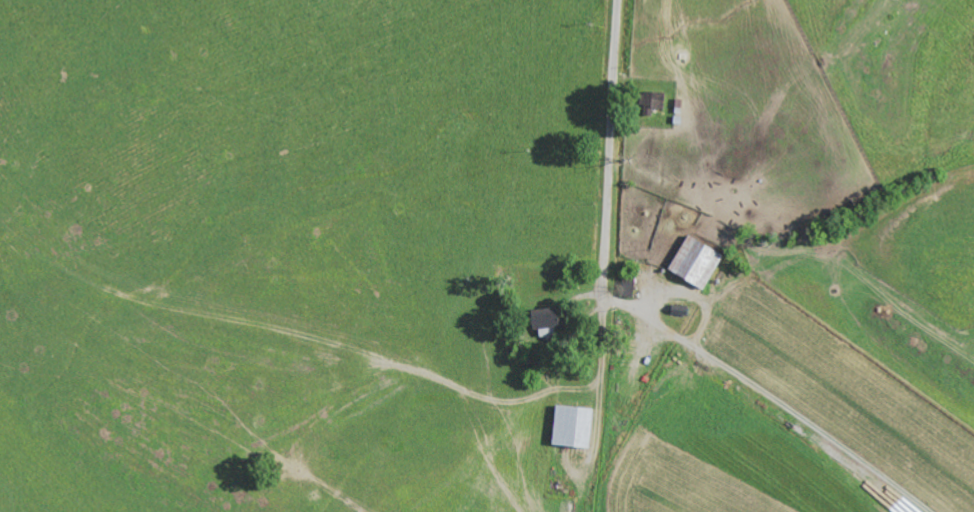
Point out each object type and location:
building: (650, 105)
road: (609, 148)
building: (693, 265)
building: (541, 320)
building: (570, 430)

